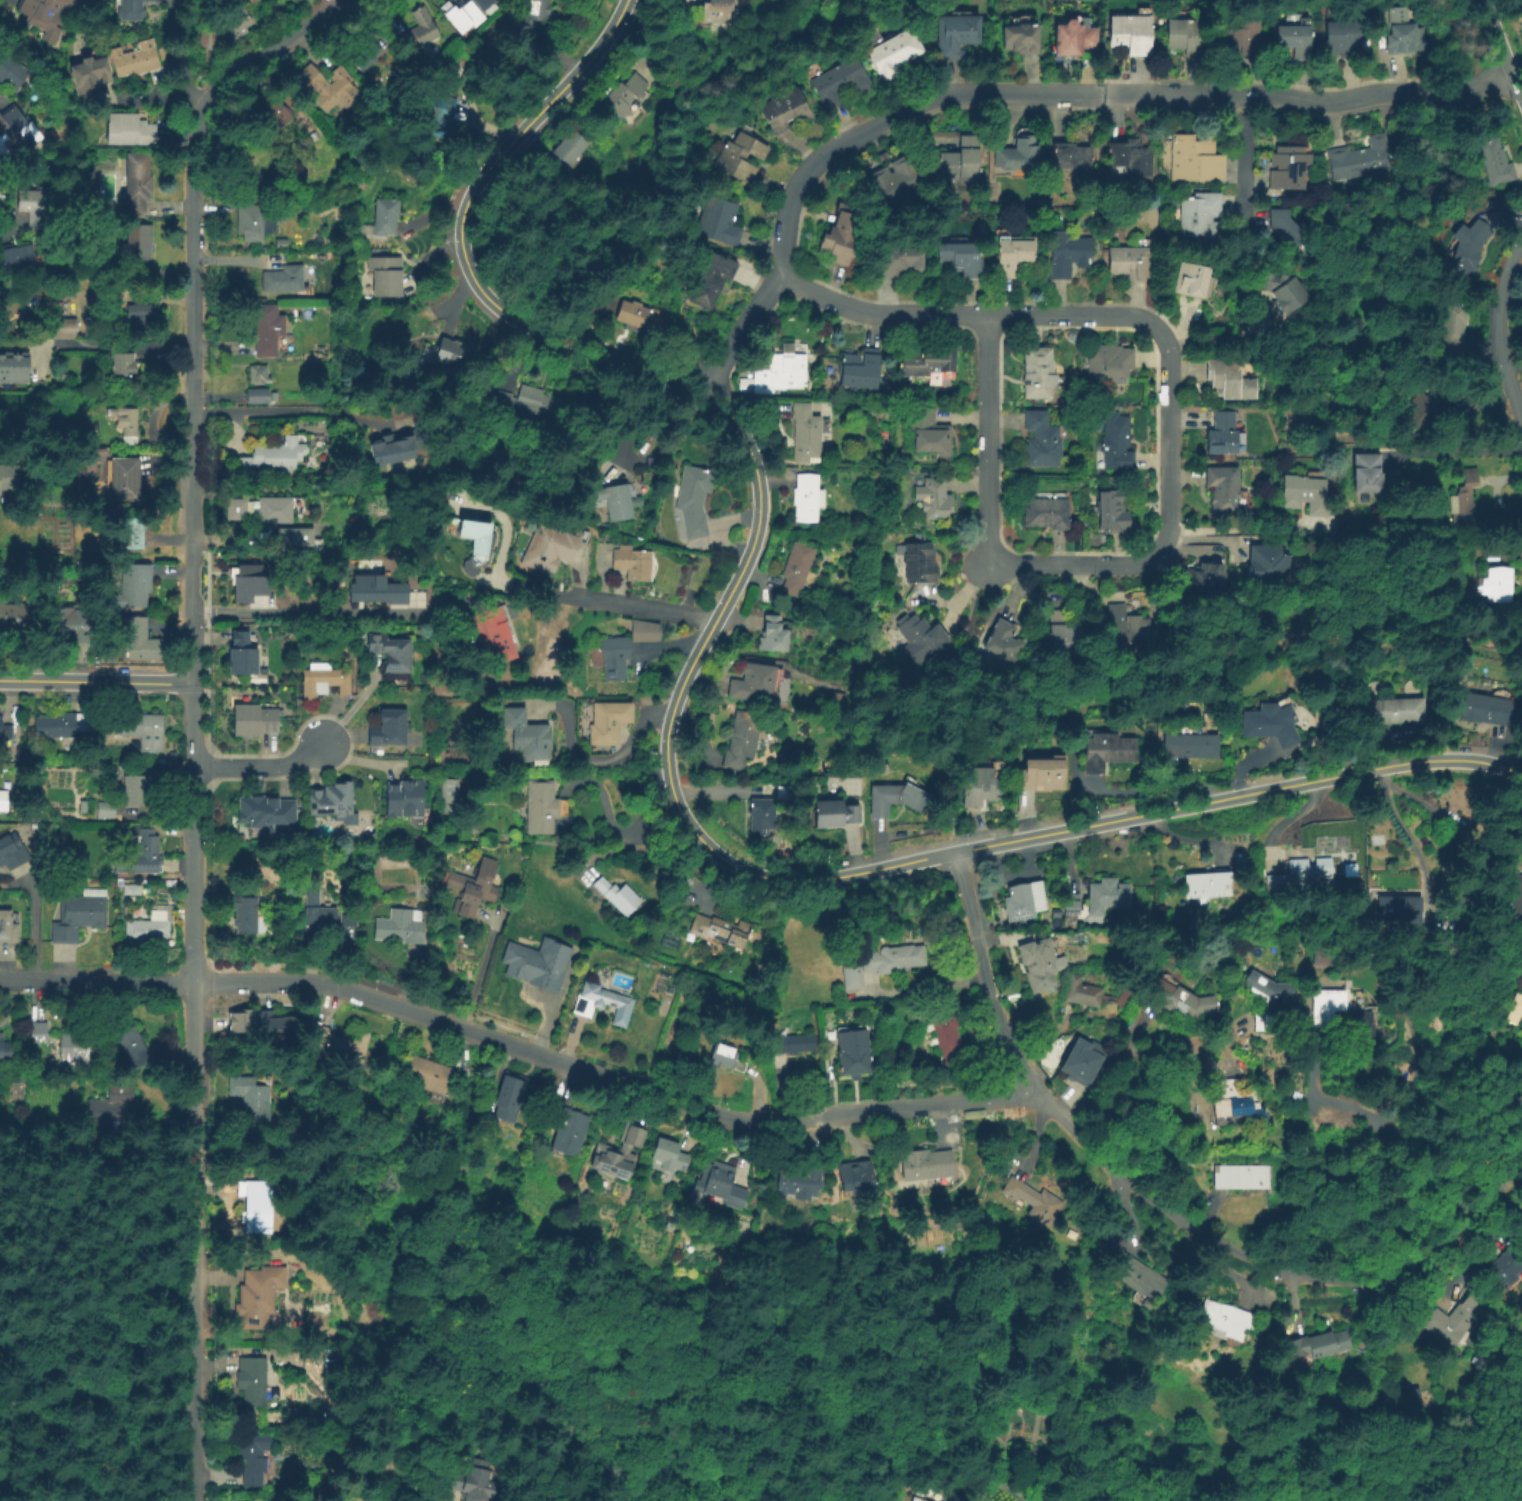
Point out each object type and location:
building: (487, 4)
building: (136, 10)
building: (716, 10)
building: (52, 14)
building: (467, 15)
building: (531, 19)
building: (231, 25)
building: (1127, 32)
building: (1402, 32)
building: (425, 34)
building: (1181, 34)
building: (1238, 34)
building: (952, 35)
building: (871, 36)
building: (1068, 37)
building: (1343, 37)
building: (1014, 38)
building: (1291, 38)
road: (1502, 49)
building: (893, 52)
building: (368, 55)
building: (142, 58)
road: (182, 64)
building: (14, 71)
building: (93, 71)
building: (835, 81)
building: (326, 88)
road: (1031, 92)
building: (622, 96)
building: (783, 111)
building: (281, 112)
building: (438, 121)
building: (134, 130)
building: (18, 131)
building: (568, 148)
road: (1244, 150)
building: (1014, 154)
building: (883, 155)
building: (738, 156)
building: (1067, 156)
building: (1128, 156)
building: (1361, 158)
building: (957, 159)
building: (1193, 159)
building: (1495, 161)
building: (1286, 167)
building: (141, 182)
building: (894, 182)
building: (4, 209)
building: (38, 209)
building: (1200, 217)
building: (382, 219)
building: (256, 220)
road: (10, 222)
building: (716, 222)
building: (1284, 225)
building: (1001, 231)
building: (839, 237)
building: (1467, 249)
building: (142, 250)
building: (1067, 254)
building: (1009, 255)
building: (958, 259)
building: (19, 260)
building: (1128, 260)
building: (897, 262)
road: (192, 268)
building: (386, 275)
building: (1191, 278)
building: (285, 279)
building: (708, 281)
building: (1281, 290)
building: (137, 313)
road: (880, 314)
building: (634, 316)
building: (62, 326)
building: (1452, 327)
road: (1501, 328)
building: (270, 331)
road: (1227, 336)
road: (113, 343)
building: (455, 353)
building: (1109, 363)
road: (1514, 365)
building: (860, 367)
building: (928, 367)
building: (782, 368)
building: (15, 369)
building: (128, 369)
building: (1038, 371)
building: (259, 373)
building: (1229, 378)
building: (1446, 393)
building: (261, 395)
building: (526, 402)
road: (286, 411)
building: (1412, 412)
building: (128, 423)
building: (928, 430)
building: (1222, 432)
building: (805, 433)
road: (989, 440)
building: (1041, 440)
road: (1172, 440)
building: (1115, 442)
building: (393, 447)
road: (1457, 451)
building: (273, 457)
building: (1367, 473)
building: (879, 474)
building: (12, 478)
building: (129, 479)
building: (1224, 488)
building: (1306, 494)
building: (806, 497)
building: (694, 498)
building: (933, 498)
building: (1464, 500)
building: (617, 503)
building: (267, 509)
building: (1111, 509)
building: (1046, 512)
building: (133, 532)
building: (293, 535)
building: (484, 538)
building: (526, 539)
building: (550, 549)
building: (1265, 563)
building: (630, 564)
building: (919, 565)
building: (796, 567)
building: (1204, 576)
building: (249, 581)
building: (138, 585)
building: (1497, 585)
building: (377, 590)
road: (633, 607)
road: (310, 612)
building: (17, 621)
building: (76, 625)
building: (644, 629)
building: (1122, 631)
building: (1064, 633)
building: (771, 635)
building: (492, 636)
building: (920, 637)
building: (143, 641)
building: (1004, 642)
building: (396, 655)
building: (246, 657)
building: (614, 658)
building: (327, 681)
road: (95, 683)
building: (752, 684)
road: (191, 690)
road: (956, 690)
building: (839, 703)
building: (1484, 710)
building: (1393, 711)
building: (609, 721)
building: (257, 722)
road: (666, 723)
building: (63, 725)
building: (1269, 725)
building: (142, 727)
building: (6, 730)
building: (394, 730)
building: (1188, 730)
building: (527, 735)
building: (741, 741)
building: (1189, 748)
building: (1106, 750)
road: (607, 759)
road: (261, 765)
road: (1377, 775)
building: (1039, 776)
building: (137, 789)
building: (978, 789)
building: (451, 796)
building: (2, 799)
building: (409, 799)
building: (895, 800)
road: (1420, 800)
building: (335, 801)
building: (540, 807)
building: (106, 809)
building: (268, 813)
building: (832, 815)
building: (761, 817)
road: (1283, 820)
road: (1404, 833)
building: (130, 835)
building: (149, 843)
road: (953, 844)
building: (11, 849)
building: (1242, 864)
building: (1305, 875)
road: (192, 876)
building: (1207, 887)
building: (475, 888)
building: (122, 891)
building: (1515, 894)
building: (1108, 895)
building: (618, 897)
building: (1023, 902)
building: (1071, 906)
building: (1398, 911)
building: (318, 912)
building: (80, 914)
building: (247, 916)
building: (349, 919)
road: (32, 925)
building: (147, 926)
building: (402, 926)
building: (8, 927)
building: (720, 931)
building: (1316, 956)
building: (891, 959)
building: (1516, 961)
building: (1039, 963)
building: (538, 964)
road: (475, 974)
building: (850, 974)
road: (982, 975)
road: (96, 983)
building: (1089, 994)
building: (1181, 1001)
building: (1268, 1001)
building: (603, 1004)
building: (1322, 1005)
building: (1517, 1009)
building: (238, 1019)
building: (277, 1026)
building: (1351, 1029)
building: (39, 1034)
building: (0, 1040)
building: (947, 1042)
building: (339, 1043)
building: (793, 1045)
building: (76, 1046)
building: (135, 1049)
building: (7, 1052)
building: (853, 1053)
building: (1074, 1058)
building: (725, 1061)
road: (1102, 1072)
building: (431, 1076)
road: (194, 1080)
road: (608, 1080)
building: (253, 1099)
building: (512, 1100)
building: (1239, 1101)
building: (114, 1108)
building: (567, 1130)
building: (618, 1155)
road: (1374, 1156)
building: (665, 1158)
building: (927, 1167)
road: (1514, 1174)
building: (855, 1177)
building: (1243, 1177)
building: (799, 1181)
building: (717, 1185)
road: (74, 1194)
building: (1035, 1200)
building: (258, 1207)
road: (193, 1211)
road: (1257, 1260)
building: (1506, 1265)
building: (1141, 1276)
road: (6, 1278)
building: (261, 1296)
building: (1139, 1299)
road: (5, 1305)
road: (193, 1320)
building: (1226, 1320)
building: (1451, 1323)
road: (120, 1342)
building: (1318, 1345)
building: (327, 1358)
building: (254, 1380)
building: (1413, 1399)
road: (169, 1432)
road: (192, 1447)
building: (255, 1459)
building: (484, 1488)
building: (918, 1499)

